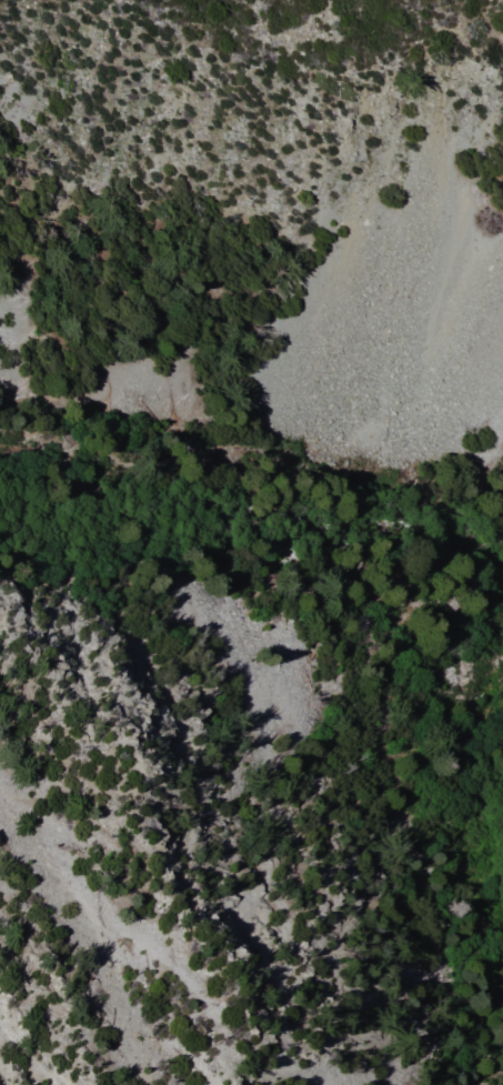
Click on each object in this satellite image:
building: (178, 441)
road: (251, 453)
building: (264, 478)

